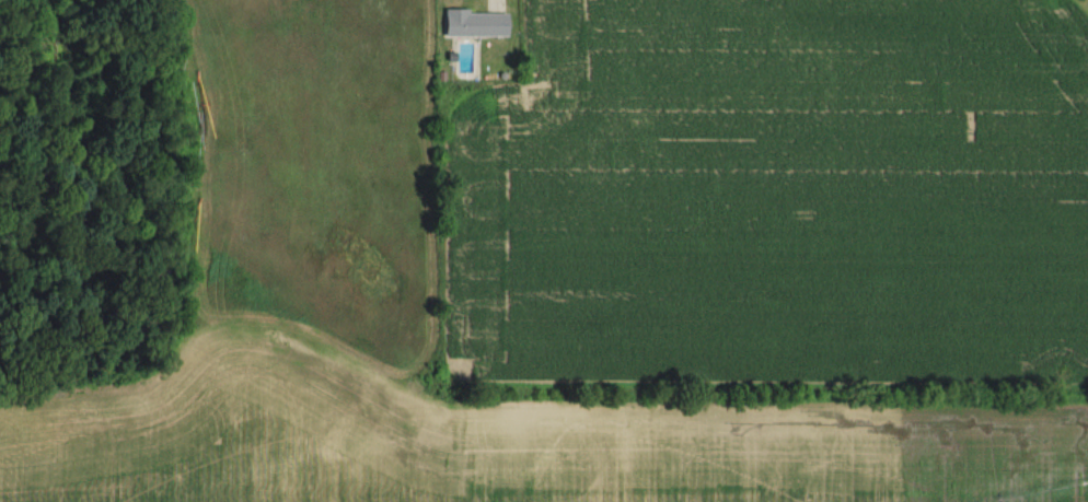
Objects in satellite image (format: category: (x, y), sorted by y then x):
road: (495, 1)
building: (474, 23)

